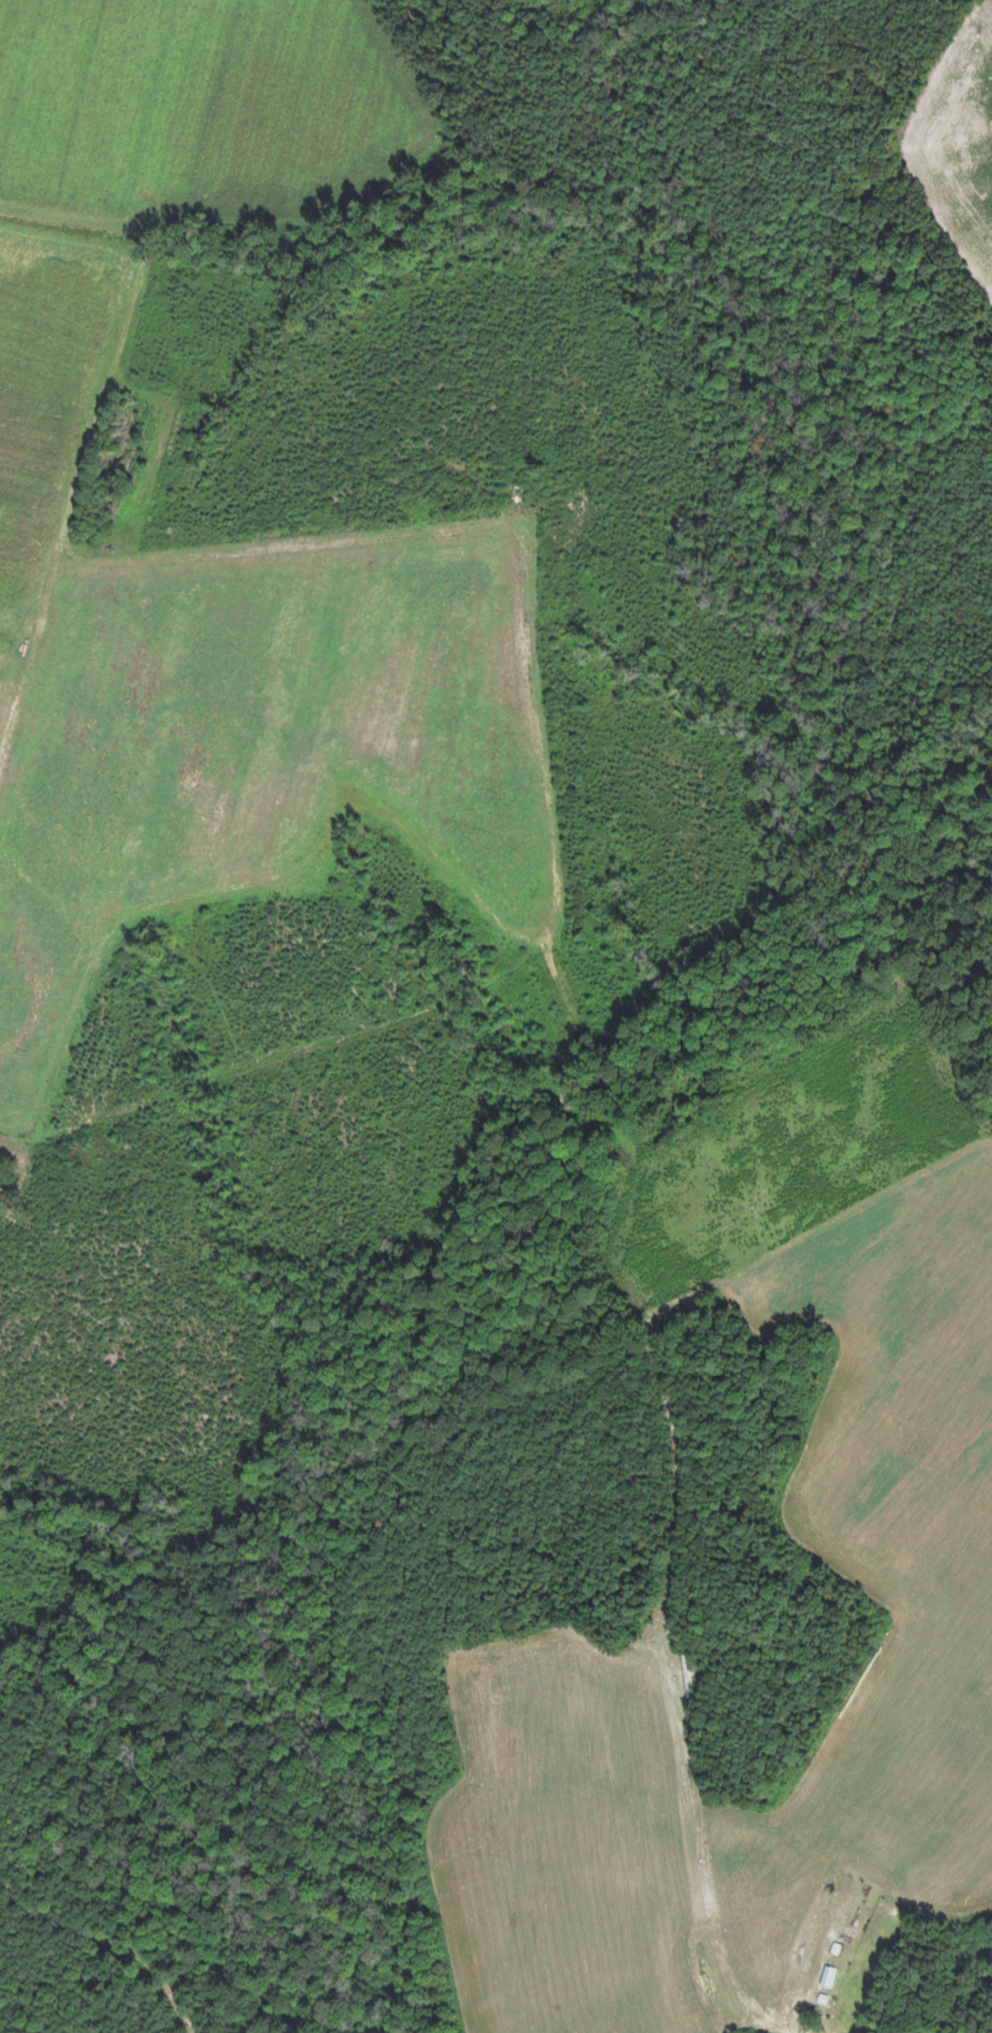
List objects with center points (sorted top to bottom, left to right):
building: (2, 654)
building: (690, 1675)

